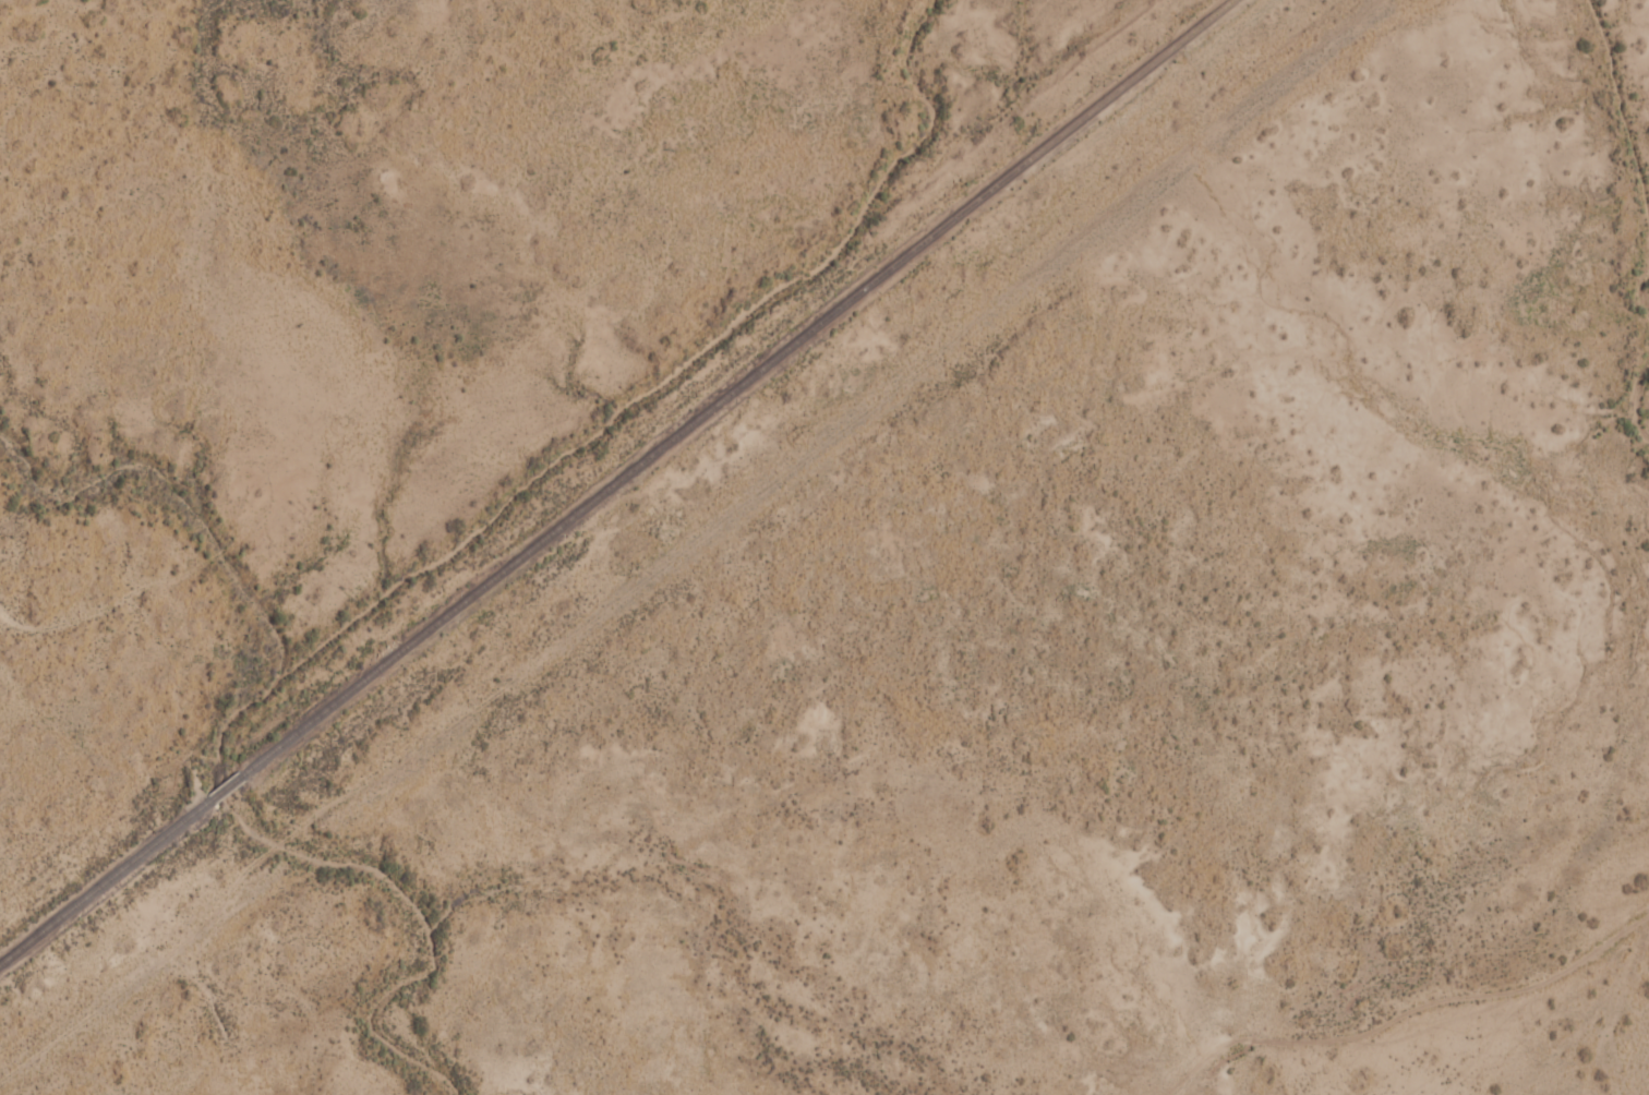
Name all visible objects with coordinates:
railway: (616, 483)
road: (1471, 988)
road: (111, 989)

